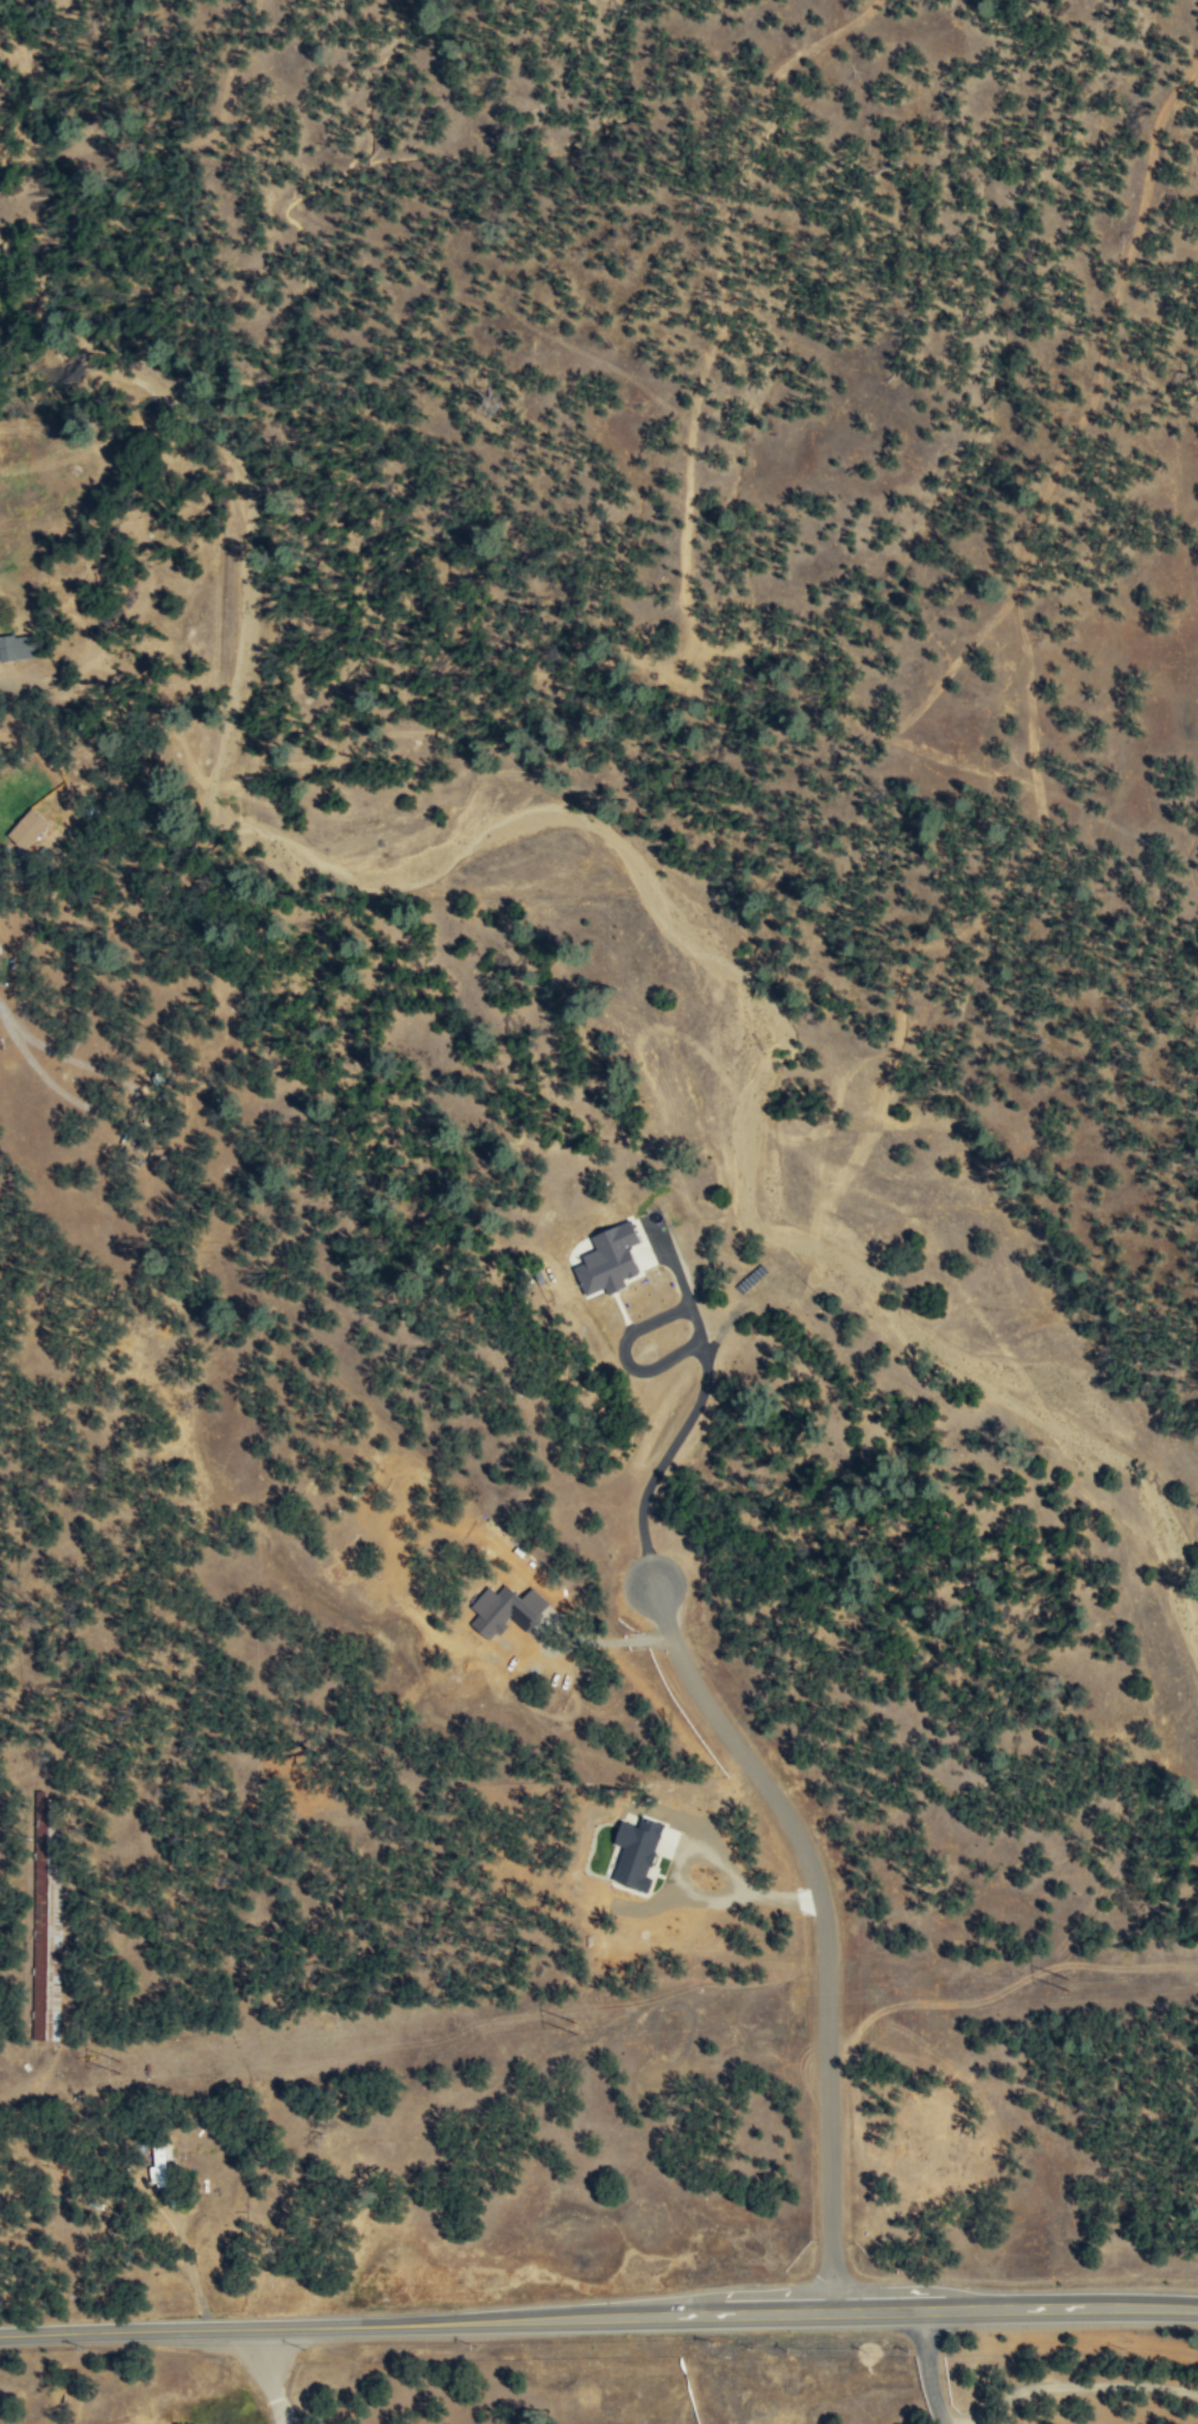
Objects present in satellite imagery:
building: (15, 646)
building: (24, 827)
building: (605, 1259)
road: (704, 1361)
building: (633, 1851)
road: (704, 1855)
road: (820, 1929)
power tower: (1066, 1989)
power tower: (584, 2028)
power tower: (126, 2067)
building: (156, 2162)
road: (191, 2262)
road: (598, 2322)
road: (931, 2369)
road: (270, 2376)
road: (1077, 2385)

